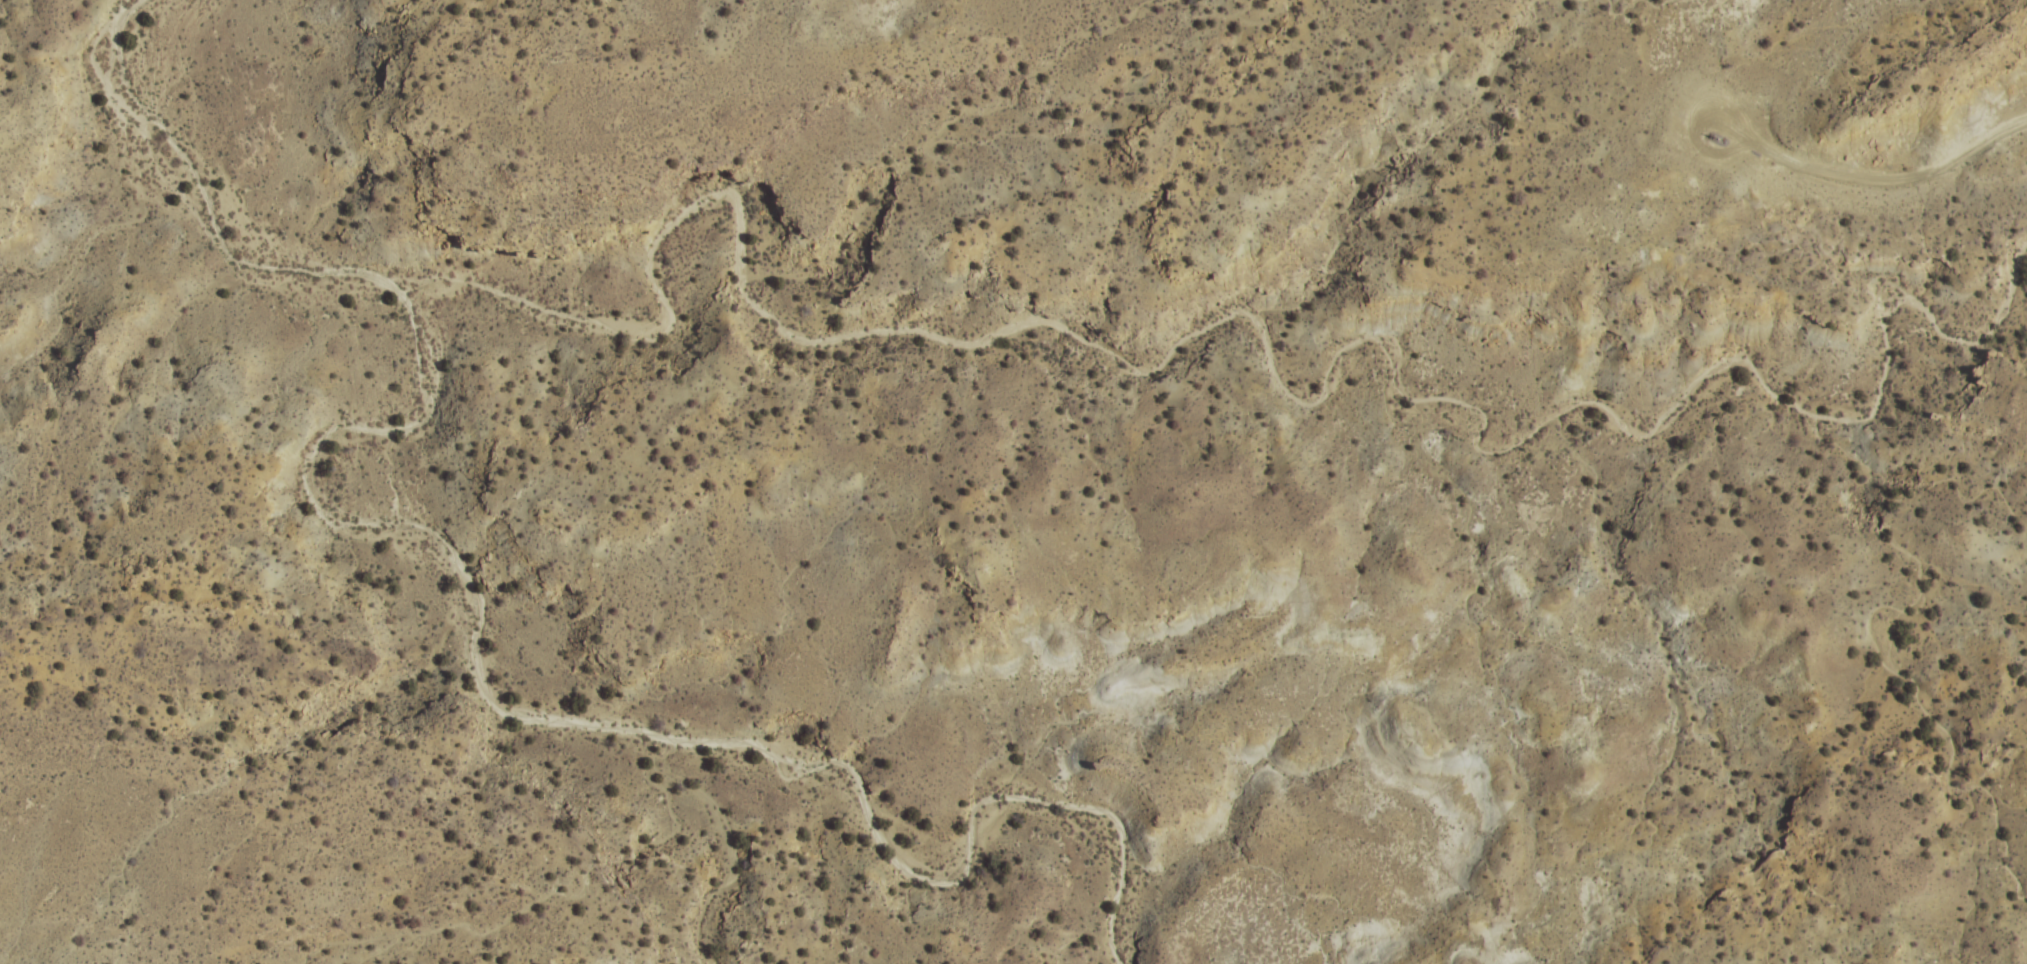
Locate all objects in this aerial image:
road: (1695, 126)
road: (1892, 172)

